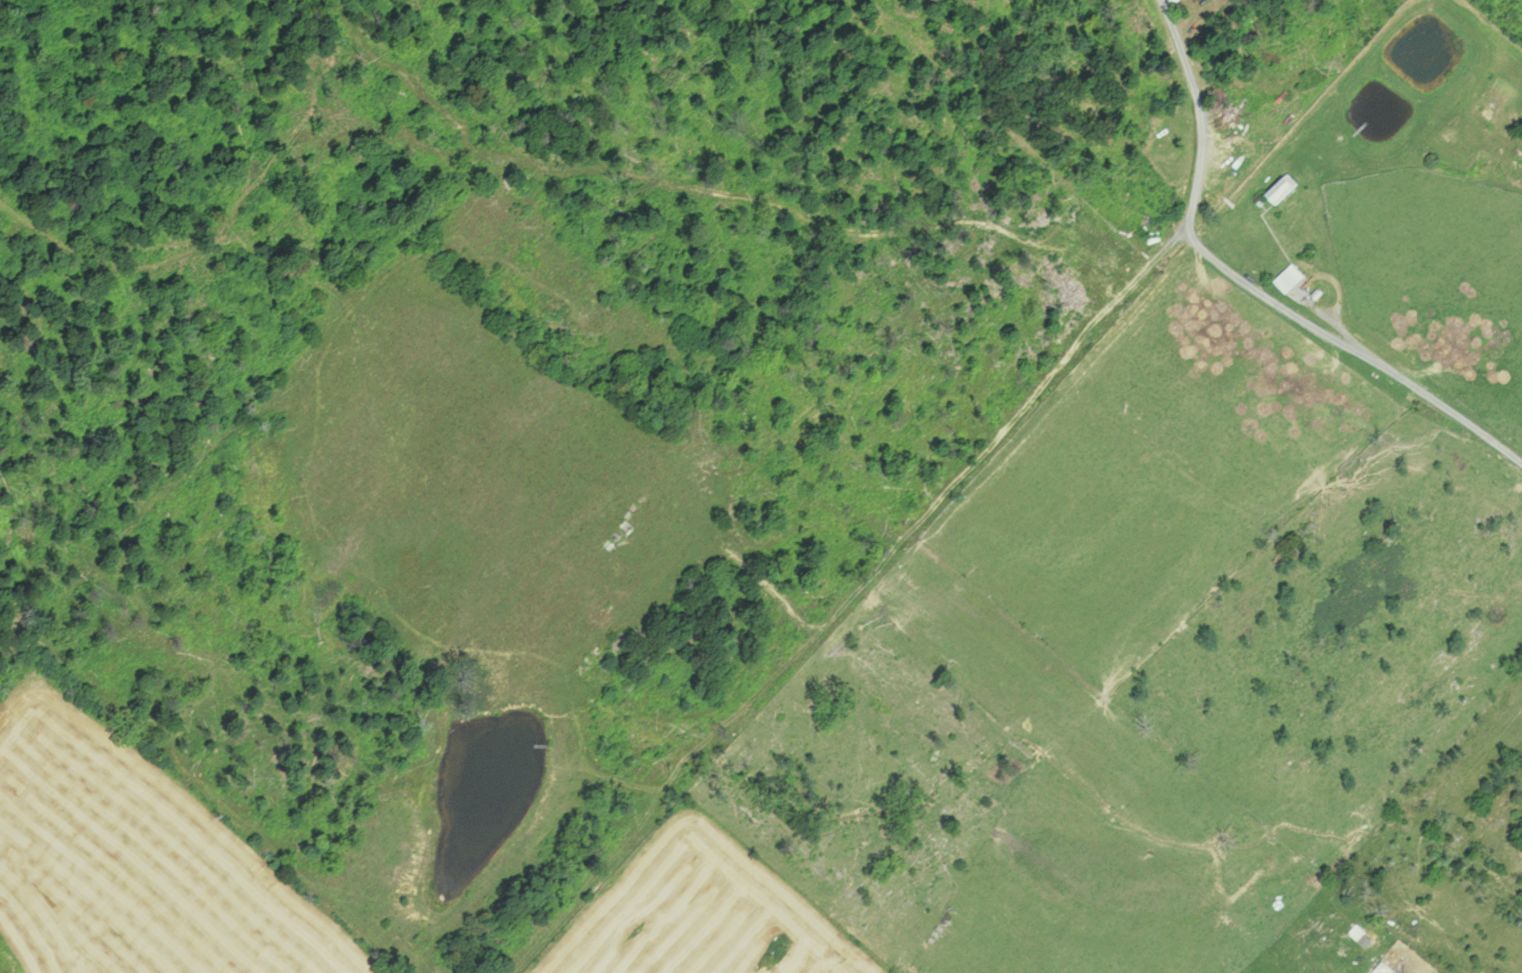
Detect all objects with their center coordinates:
building: (1283, 188)
road: (1189, 234)
road: (1424, 393)
building: (1360, 935)
building: (1385, 968)

